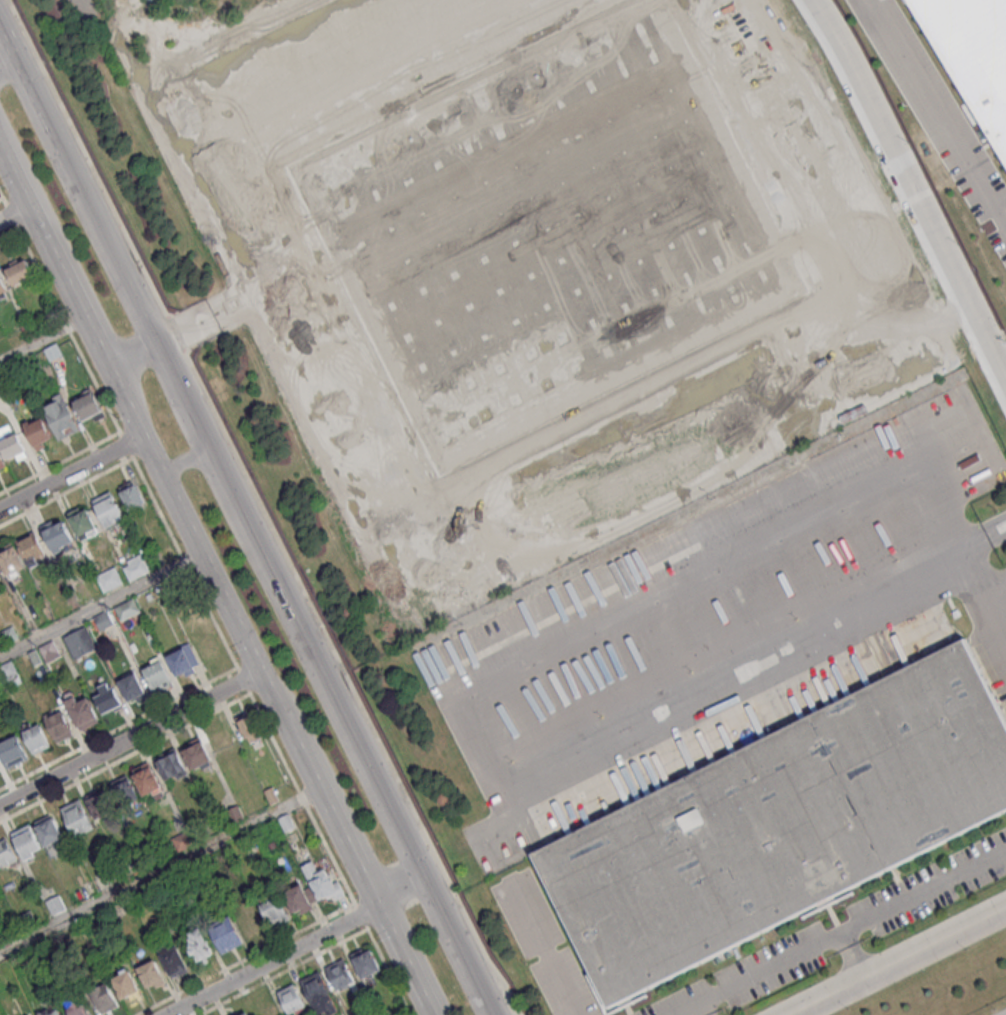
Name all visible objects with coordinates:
road: (515, 5)
road: (725, 30)
building: (973, 53)
road: (330, 60)
road: (7, 61)
road: (313, 67)
road: (365, 87)
road: (201, 102)
road: (940, 107)
road: (912, 186)
road: (1, 194)
road: (1, 197)
road: (16, 210)
road: (869, 249)
building: (19, 271)
building: (2, 288)
road: (42, 339)
road: (130, 352)
building: (88, 406)
building: (60, 416)
building: (38, 432)
building: (10, 445)
road: (212, 457)
road: (189, 461)
road: (71, 472)
building: (131, 495)
building: (108, 508)
building: (82, 522)
road: (186, 522)
road: (367, 533)
building: (57, 534)
building: (32, 549)
building: (11, 560)
building: (135, 566)
building: (0, 578)
building: (109, 578)
road: (101, 603)
building: (127, 609)
parking lot: (722, 611)
building: (103, 619)
building: (80, 642)
road: (766, 650)
building: (182, 661)
building: (10, 673)
building: (156, 674)
building: (132, 687)
building: (107, 698)
building: (81, 712)
building: (58, 725)
building: (249, 728)
building: (35, 736)
road: (129, 738)
building: (12, 751)
building: (196, 752)
building: (170, 764)
building: (147, 780)
building: (124, 789)
building: (270, 794)
building: (101, 804)
building: (77, 817)
building: (782, 823)
building: (47, 829)
building: (183, 839)
building: (26, 841)
building: (6, 853)
road: (160, 870)
building: (322, 882)
road: (403, 894)
building: (298, 899)
building: (55, 904)
building: (275, 912)
building: (27, 919)
building: (248, 922)
parking lot: (840, 929)
road: (841, 933)
building: (225, 934)
parking lot: (543, 945)
building: (199, 949)
road: (458, 949)
road: (272, 960)
road: (405, 960)
building: (173, 961)
building: (365, 962)
road: (902, 962)
building: (151, 974)
building: (340, 974)
building: (125, 984)
building: (318, 992)
building: (104, 998)
building: (291, 998)
road: (570, 999)
building: (76, 1004)
building: (50, 1010)
building: (245, 1013)

